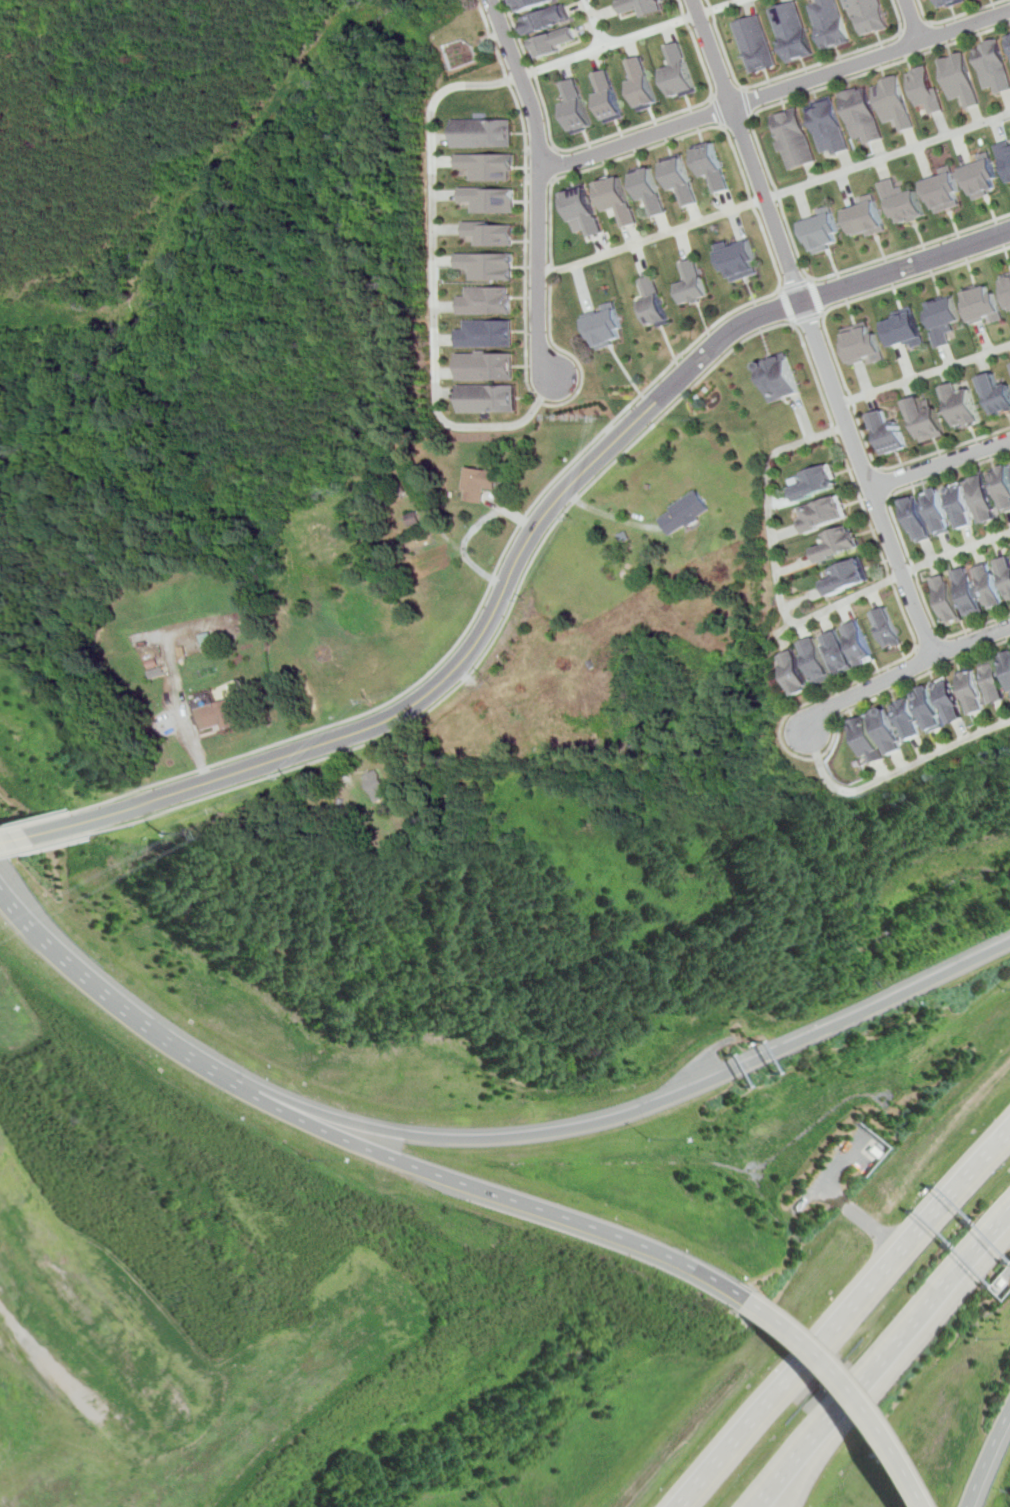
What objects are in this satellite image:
building: (945, 3)
building: (531, 4)
building: (644, 6)
building: (867, 15)
road: (952, 17)
building: (545, 18)
road: (908, 22)
road: (599, 24)
building: (827, 24)
building: (790, 32)
building: (556, 43)
building: (1008, 44)
building: (755, 47)
building: (991, 71)
building: (679, 73)
road: (791, 73)
building: (957, 80)
building: (642, 83)
building: (923, 90)
road: (775, 93)
building: (608, 96)
road: (797, 97)
road: (747, 101)
building: (891, 103)
building: (575, 106)
road: (718, 110)
building: (860, 118)
building: (826, 130)
building: (483, 132)
road: (608, 137)
building: (792, 141)
building: (1004, 156)
road: (554, 163)
building: (486, 166)
building: (712, 168)
road: (435, 169)
building: (980, 178)
road: (540, 179)
building: (681, 180)
road: (539, 186)
building: (649, 191)
building: (942, 191)
road: (775, 196)
building: (489, 199)
building: (617, 201)
building: (900, 202)
building: (583, 212)
building: (864, 219)
building: (491, 233)
building: (822, 233)
road: (910, 248)
building: (739, 260)
building: (488, 266)
building: (694, 283)
road: (794, 285)
road: (794, 287)
building: (1005, 289)
road: (816, 297)
building: (488, 301)
building: (654, 302)
building: (979, 304)
road: (788, 306)
road: (806, 318)
building: (939, 320)
building: (608, 328)
building: (900, 329)
building: (487, 334)
building: (859, 343)
road: (553, 345)
road: (836, 363)
building: (486, 366)
road: (923, 374)
building: (779, 378)
building: (994, 395)
building: (486, 399)
building: (958, 405)
building: (922, 420)
building: (885, 434)
road: (939, 463)
building: (1009, 468)
road: (883, 482)
building: (815, 484)
building: (477, 486)
building: (1000, 488)
building: (979, 501)
building: (957, 507)
building: (936, 514)
building: (822, 515)
building: (684, 516)
building: (914, 521)
road: (552, 526)
road: (472, 531)
road: (900, 541)
building: (836, 544)
road: (522, 551)
road: (955, 553)
road: (774, 562)
building: (1004, 574)
building: (844, 578)
building: (989, 588)
building: (967, 594)
building: (944, 601)
road: (916, 614)
building: (882, 628)
road: (925, 641)
building: (855, 645)
road: (454, 646)
building: (834, 653)
building: (813, 663)
building: (1006, 668)
road: (903, 670)
building: (792, 674)
building: (993, 685)
building: (970, 695)
building: (948, 701)
building: (925, 710)
road: (187, 711)
building: (217, 718)
building: (906, 720)
building: (885, 734)
building: (865, 743)
road: (828, 751)
road: (893, 774)
building: (375, 789)
building: (399, 824)
road: (2, 829)
road: (13, 839)
road: (8, 850)
road: (119, 997)
road: (648, 1105)
road: (496, 1192)
road: (843, 1313)
road: (883, 1358)
road: (830, 1393)
road: (987, 1462)

